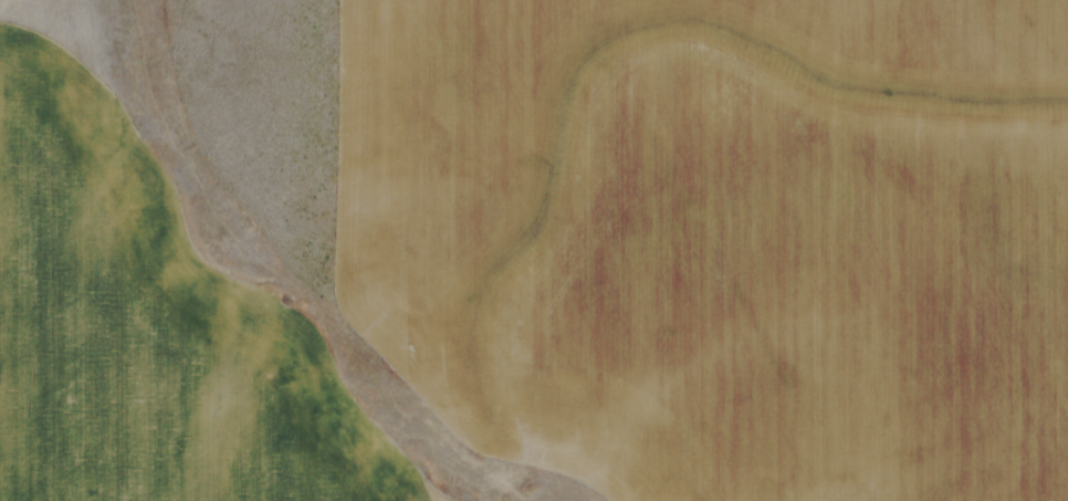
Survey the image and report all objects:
crop: (534, 250)

